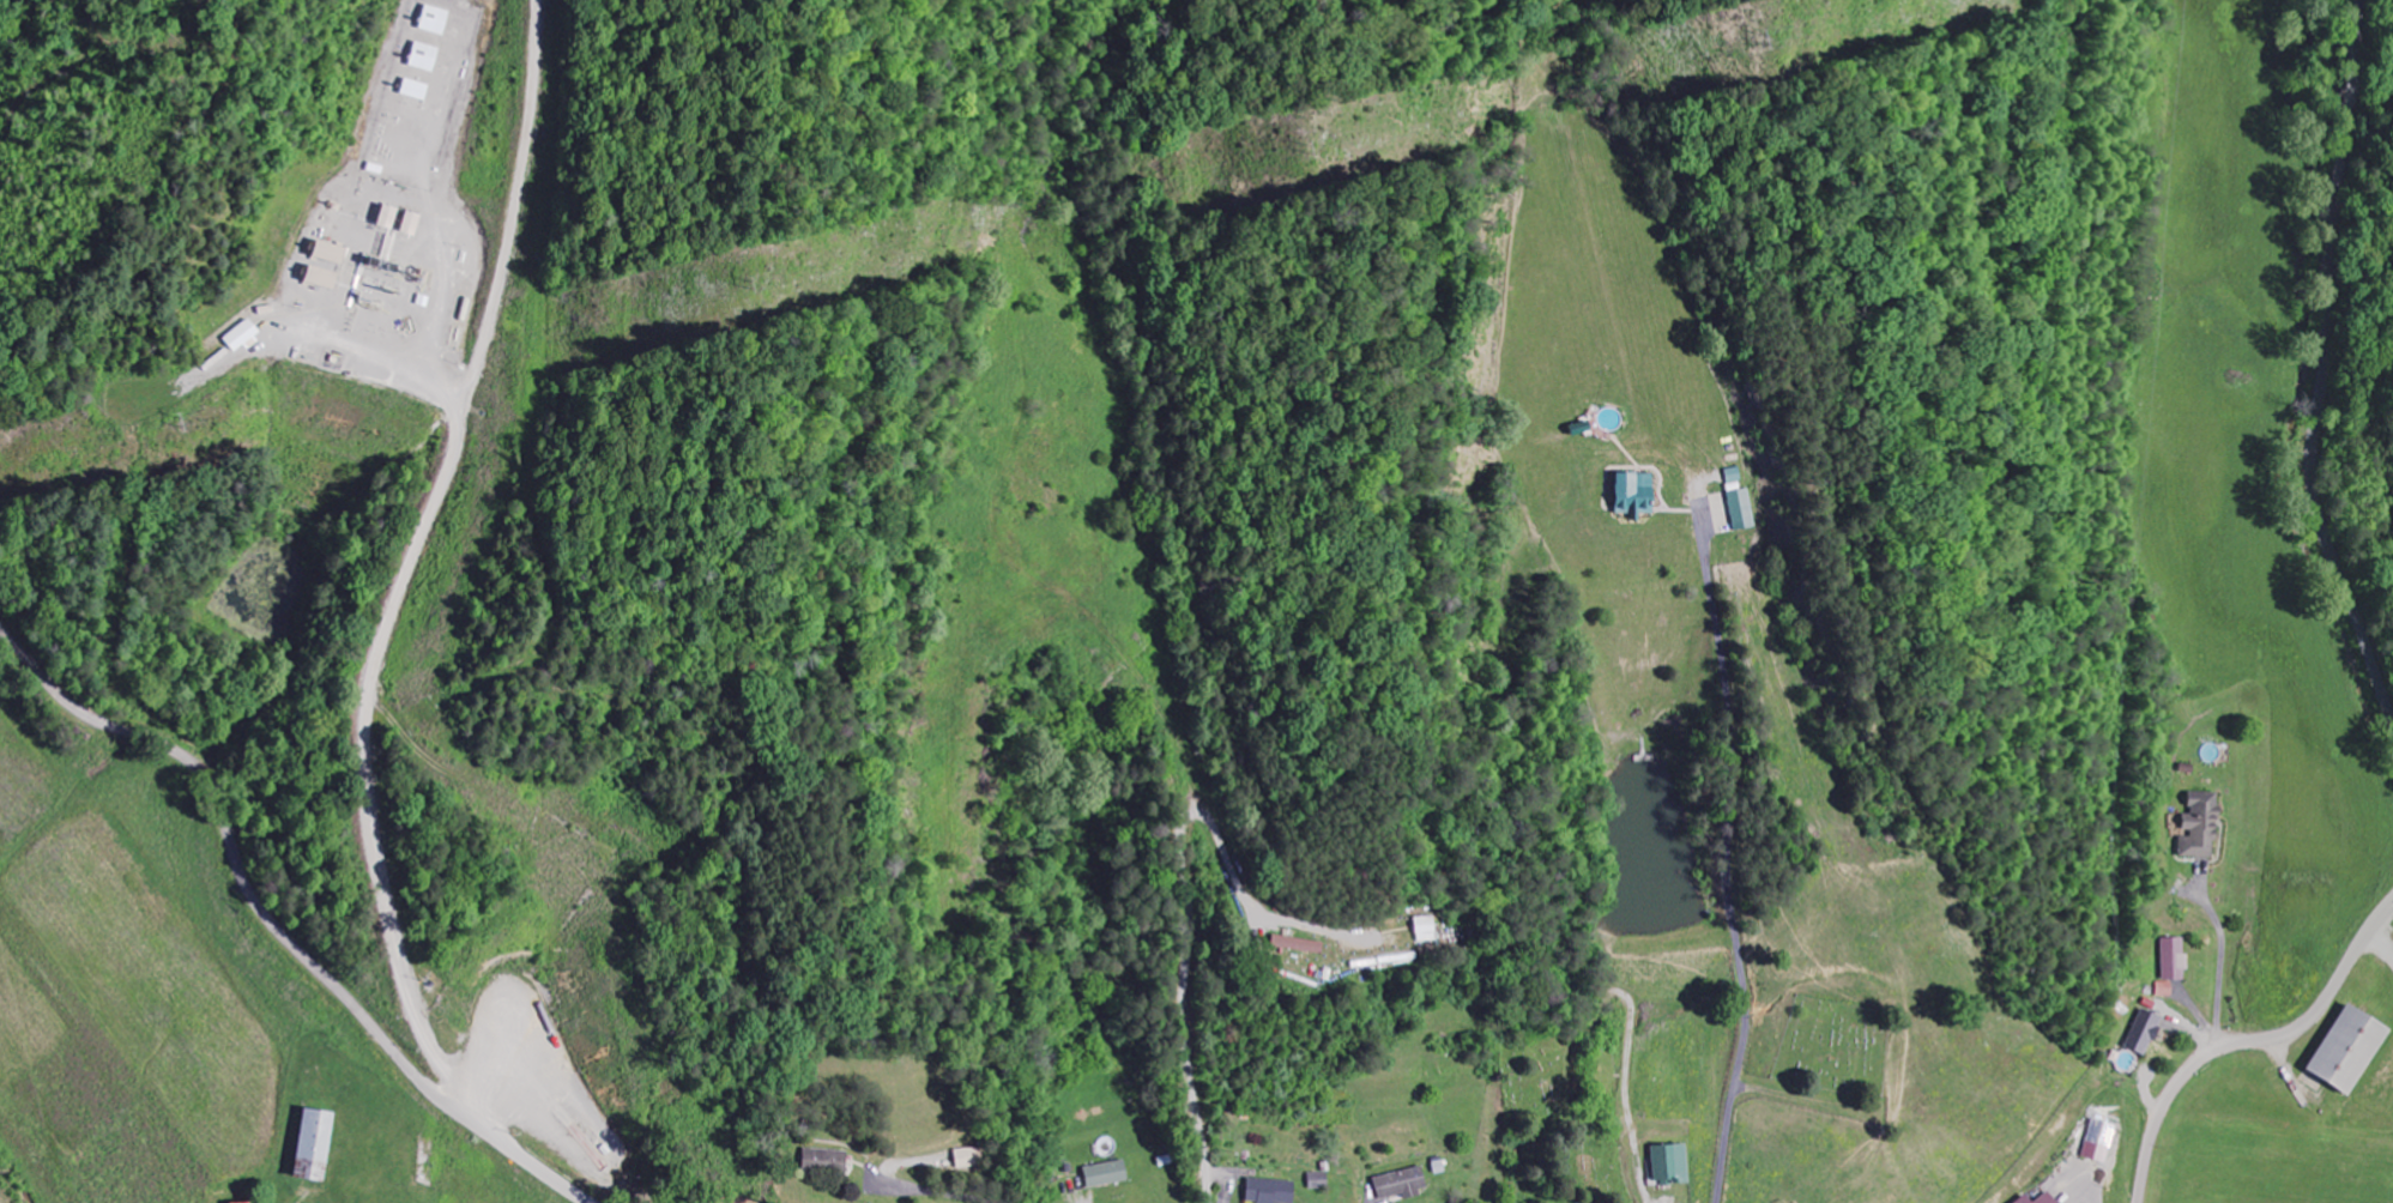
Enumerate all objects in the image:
building: (436, 18)
building: (425, 55)
building: (331, 250)
building: (324, 276)
building: (246, 334)
road: (2302, 374)
building: (1632, 492)
building: (1744, 508)
building: (2206, 824)
road: (273, 924)
building: (1426, 927)
building: (1298, 943)
building: (2177, 959)
building: (2167, 987)
building: (2146, 1030)
road: (2249, 1040)
park: (1833, 1047)
building: (2355, 1048)
park: (1561, 1118)
building: (2101, 1139)
building: (315, 1144)
building: (967, 1156)
building: (826, 1160)
building: (1672, 1161)
building: (1107, 1172)
building: (1319, 1179)
building: (1403, 1181)
building: (1273, 1190)
road: (936, 1193)
building: (2041, 1198)
building: (259, 1202)

